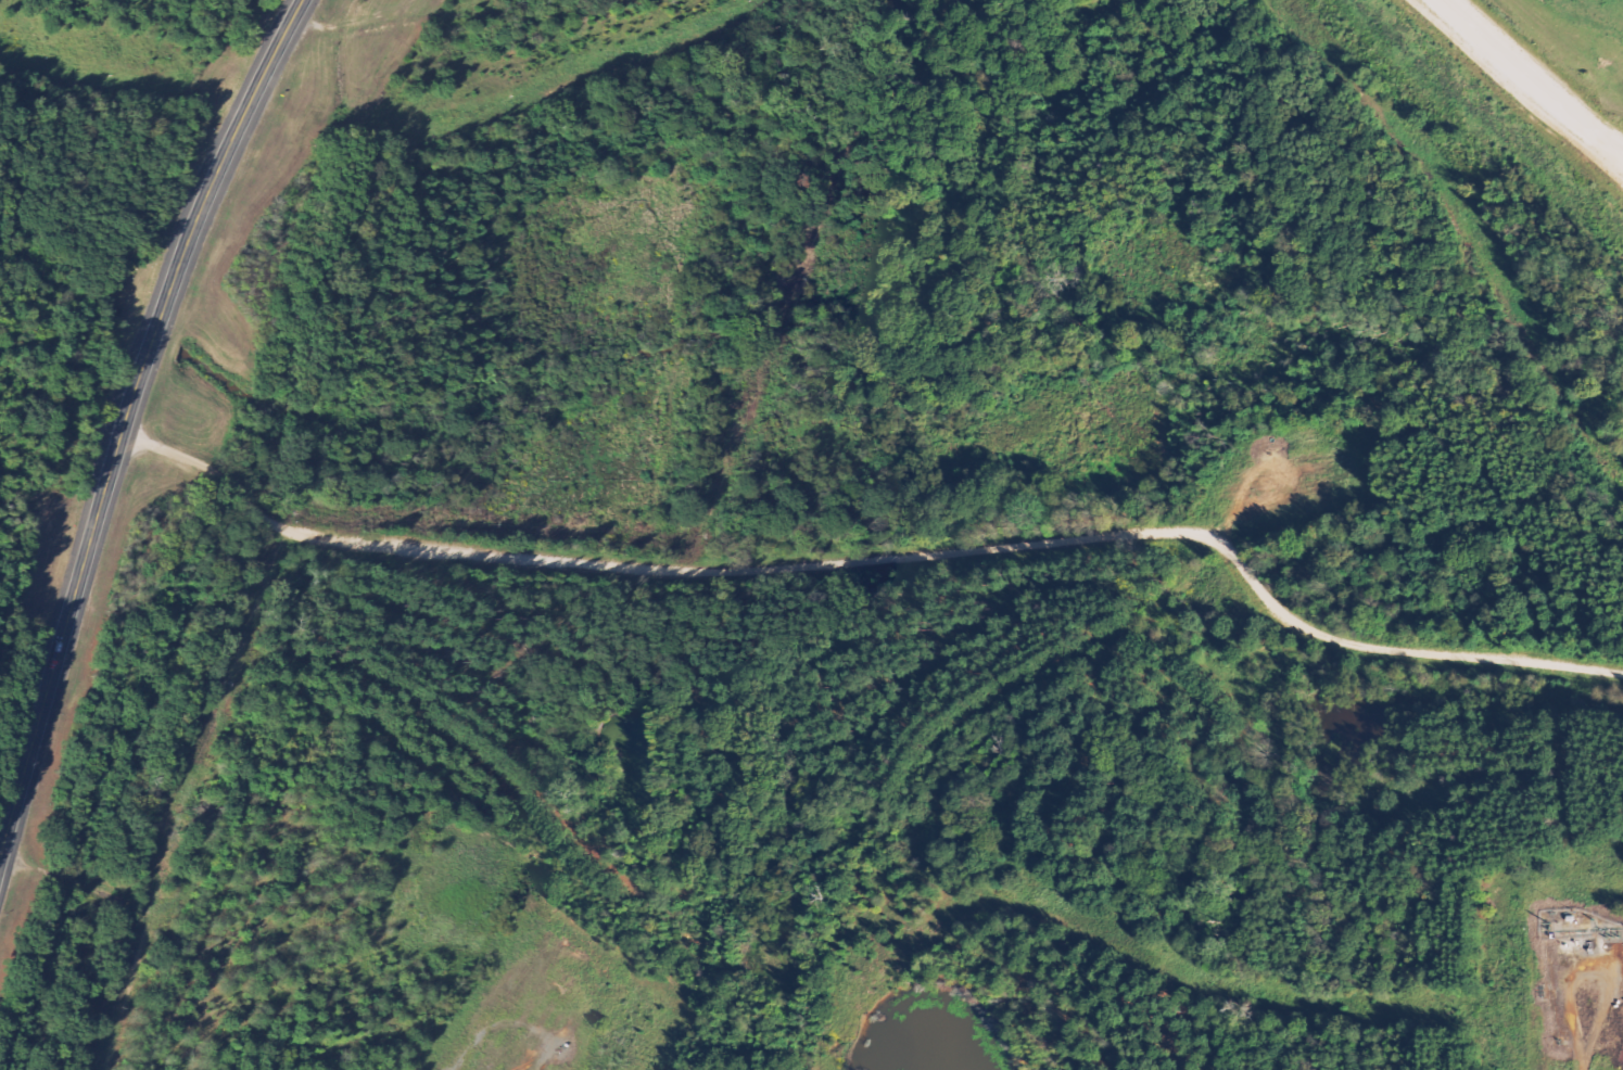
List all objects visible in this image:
road: (1529, 84)
road: (126, 421)

